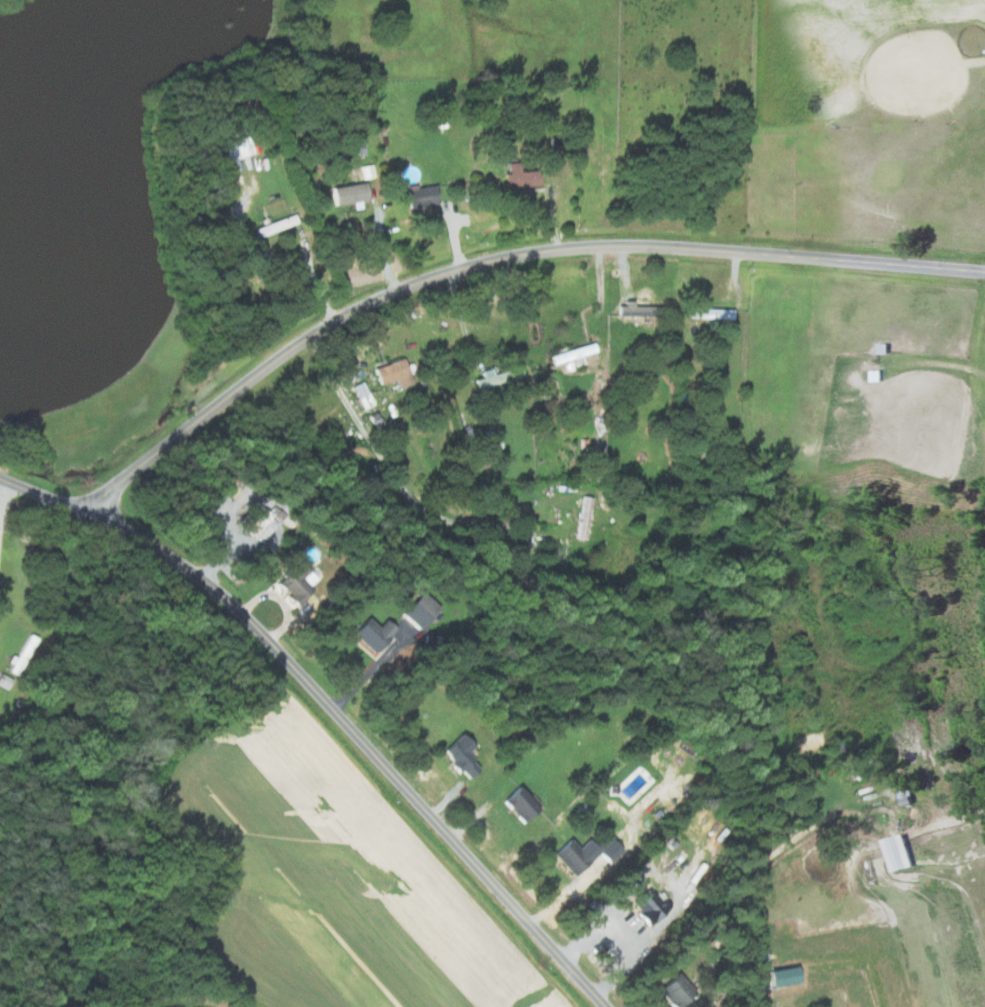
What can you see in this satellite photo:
building: (239, 148)
building: (518, 178)
building: (348, 193)
building: (420, 196)
building: (274, 225)
road: (269, 254)
road: (498, 257)
road: (601, 295)
building: (633, 311)
road: (463, 316)
building: (571, 354)
building: (391, 373)
building: (497, 377)
building: (597, 440)
road: (398, 482)
road: (3, 503)
building: (583, 518)
building: (256, 523)
building: (294, 583)
building: (418, 611)
building: (372, 634)
road: (329, 706)
building: (459, 756)
building: (519, 804)
building: (896, 852)
building: (583, 854)
road: (755, 878)
building: (648, 908)
building: (673, 991)

